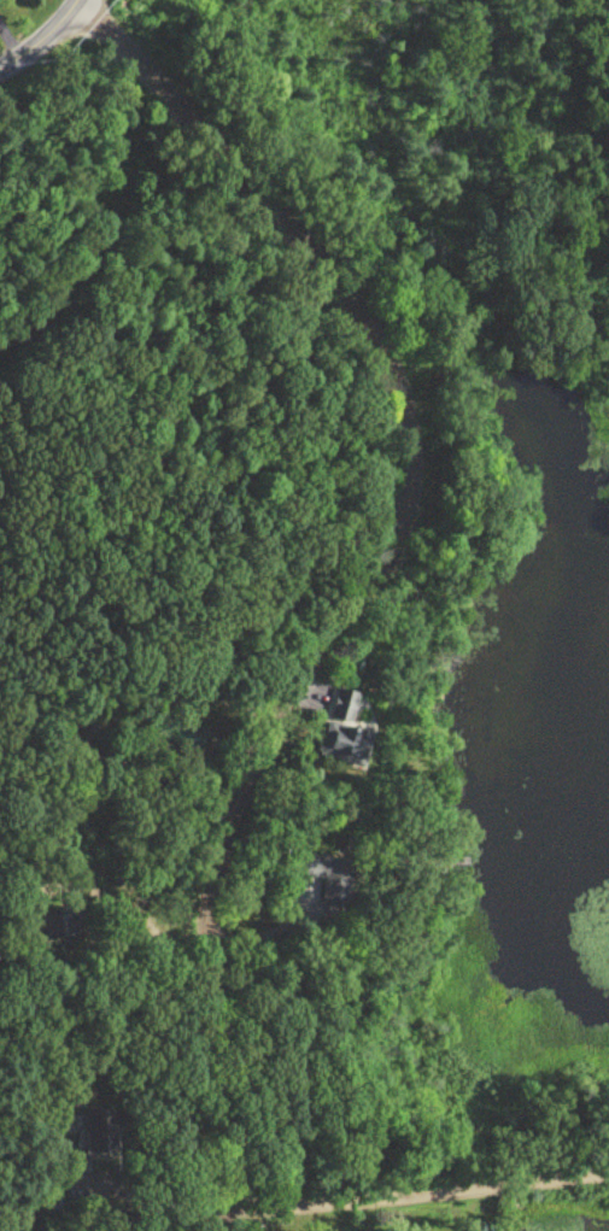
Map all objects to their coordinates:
road: (43, 39)
road: (373, 567)
building: (338, 733)
road: (99, 855)
building: (314, 871)
road: (414, 1188)
road: (218, 1219)

